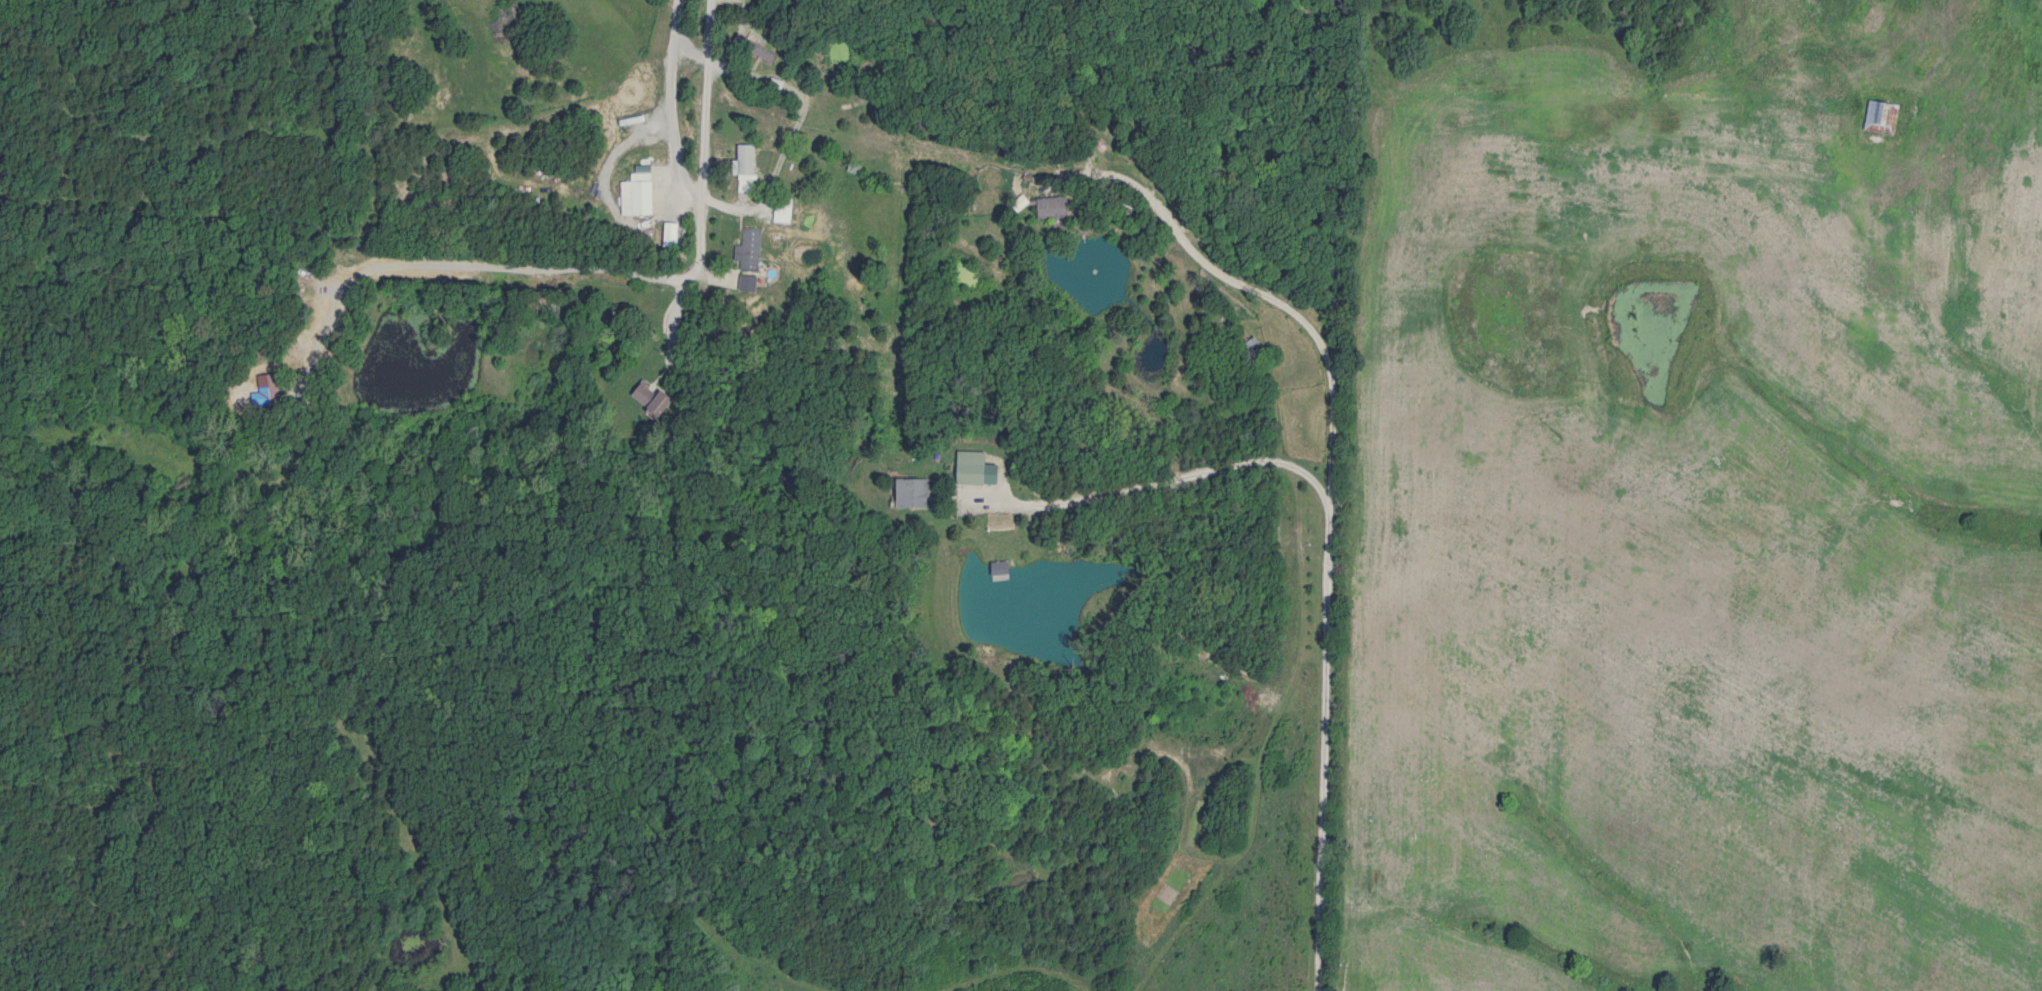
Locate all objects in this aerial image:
building: (752, 45)
road: (686, 56)
road: (666, 108)
building: (1881, 116)
building: (747, 162)
building: (639, 194)
building: (1053, 208)
building: (785, 212)
building: (748, 249)
road: (616, 269)
building: (267, 388)
building: (649, 397)
building: (972, 468)
building: (913, 494)
road: (1324, 569)

